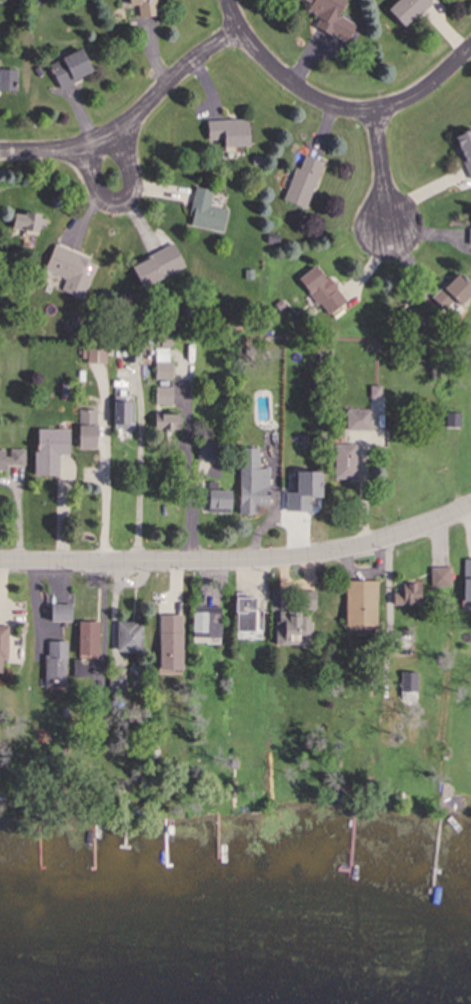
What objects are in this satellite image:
building: (146, 8)
building: (409, 11)
road: (245, 13)
building: (332, 19)
building: (71, 69)
building: (9, 81)
road: (356, 103)
road: (139, 116)
building: (229, 134)
building: (465, 150)
road: (112, 156)
road: (385, 164)
building: (303, 183)
building: (207, 214)
building: (28, 224)
building: (152, 270)
building: (72, 271)
building: (323, 293)
building: (454, 296)
building: (99, 355)
building: (164, 397)
building: (123, 418)
building: (359, 421)
building: (168, 424)
building: (88, 431)
building: (50, 453)
building: (207, 454)
road: (181, 455)
building: (12, 462)
building: (346, 464)
road: (106, 479)
building: (253, 484)
road: (141, 501)
building: (220, 502)
road: (239, 558)
road: (357, 574)
building: (441, 579)
building: (467, 583)
building: (408, 596)
building: (362, 606)
road: (388, 614)
building: (61, 615)
building: (296, 619)
building: (249, 621)
building: (207, 624)
building: (130, 639)
building: (89, 641)
building: (171, 646)
building: (4, 651)
building: (56, 665)
building: (85, 671)
building: (410, 687)

